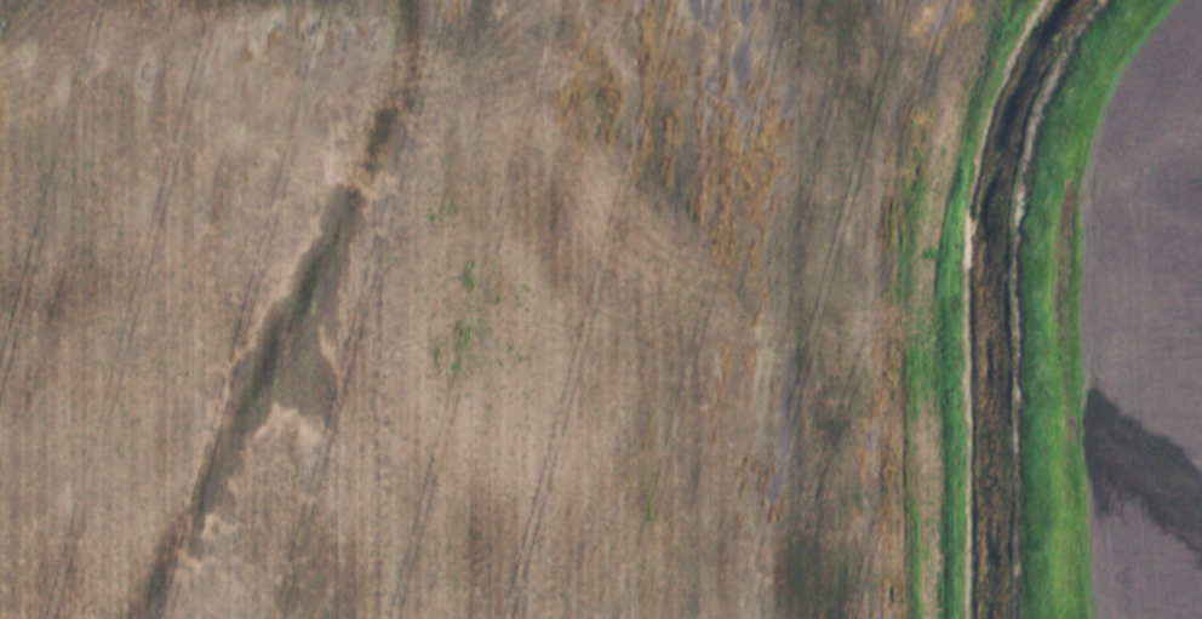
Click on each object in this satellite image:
crop: (479, 306)
crop: (1149, 331)

